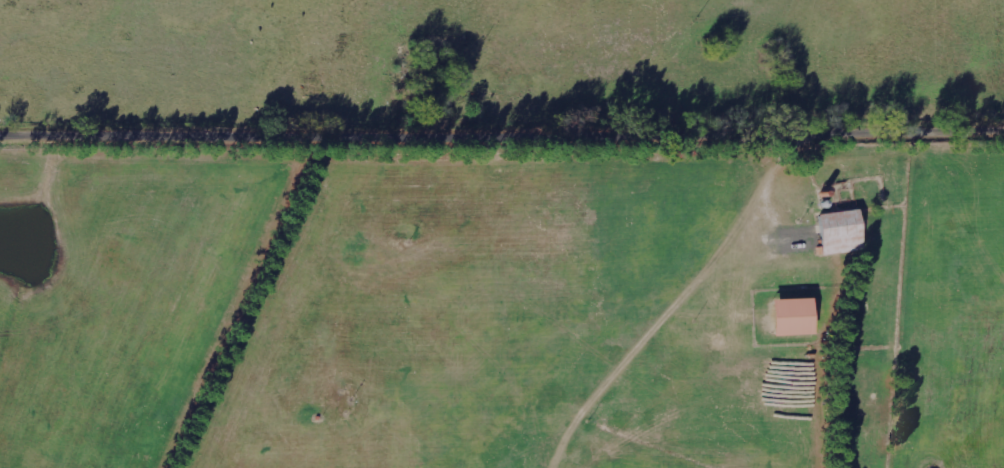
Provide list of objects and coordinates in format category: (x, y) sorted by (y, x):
road: (502, 138)
building: (841, 232)
building: (793, 317)

